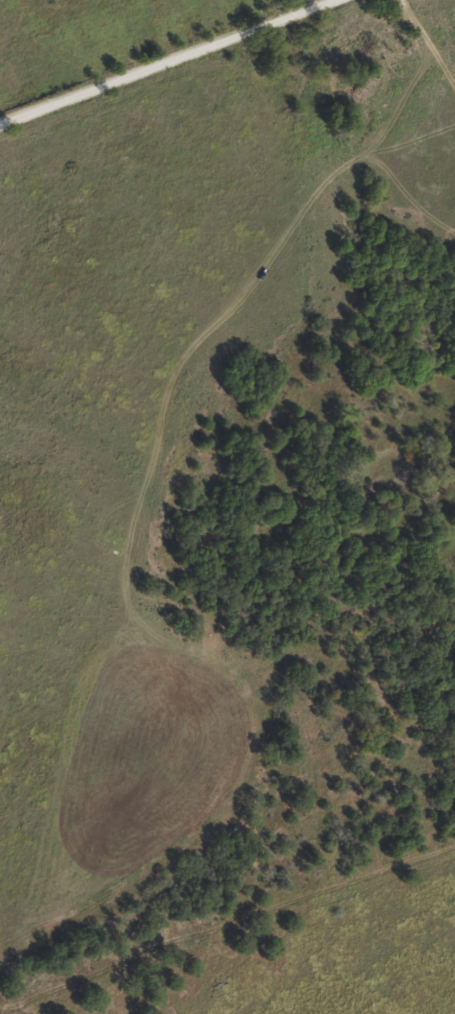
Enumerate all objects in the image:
road: (160, 59)
road: (338, 143)

